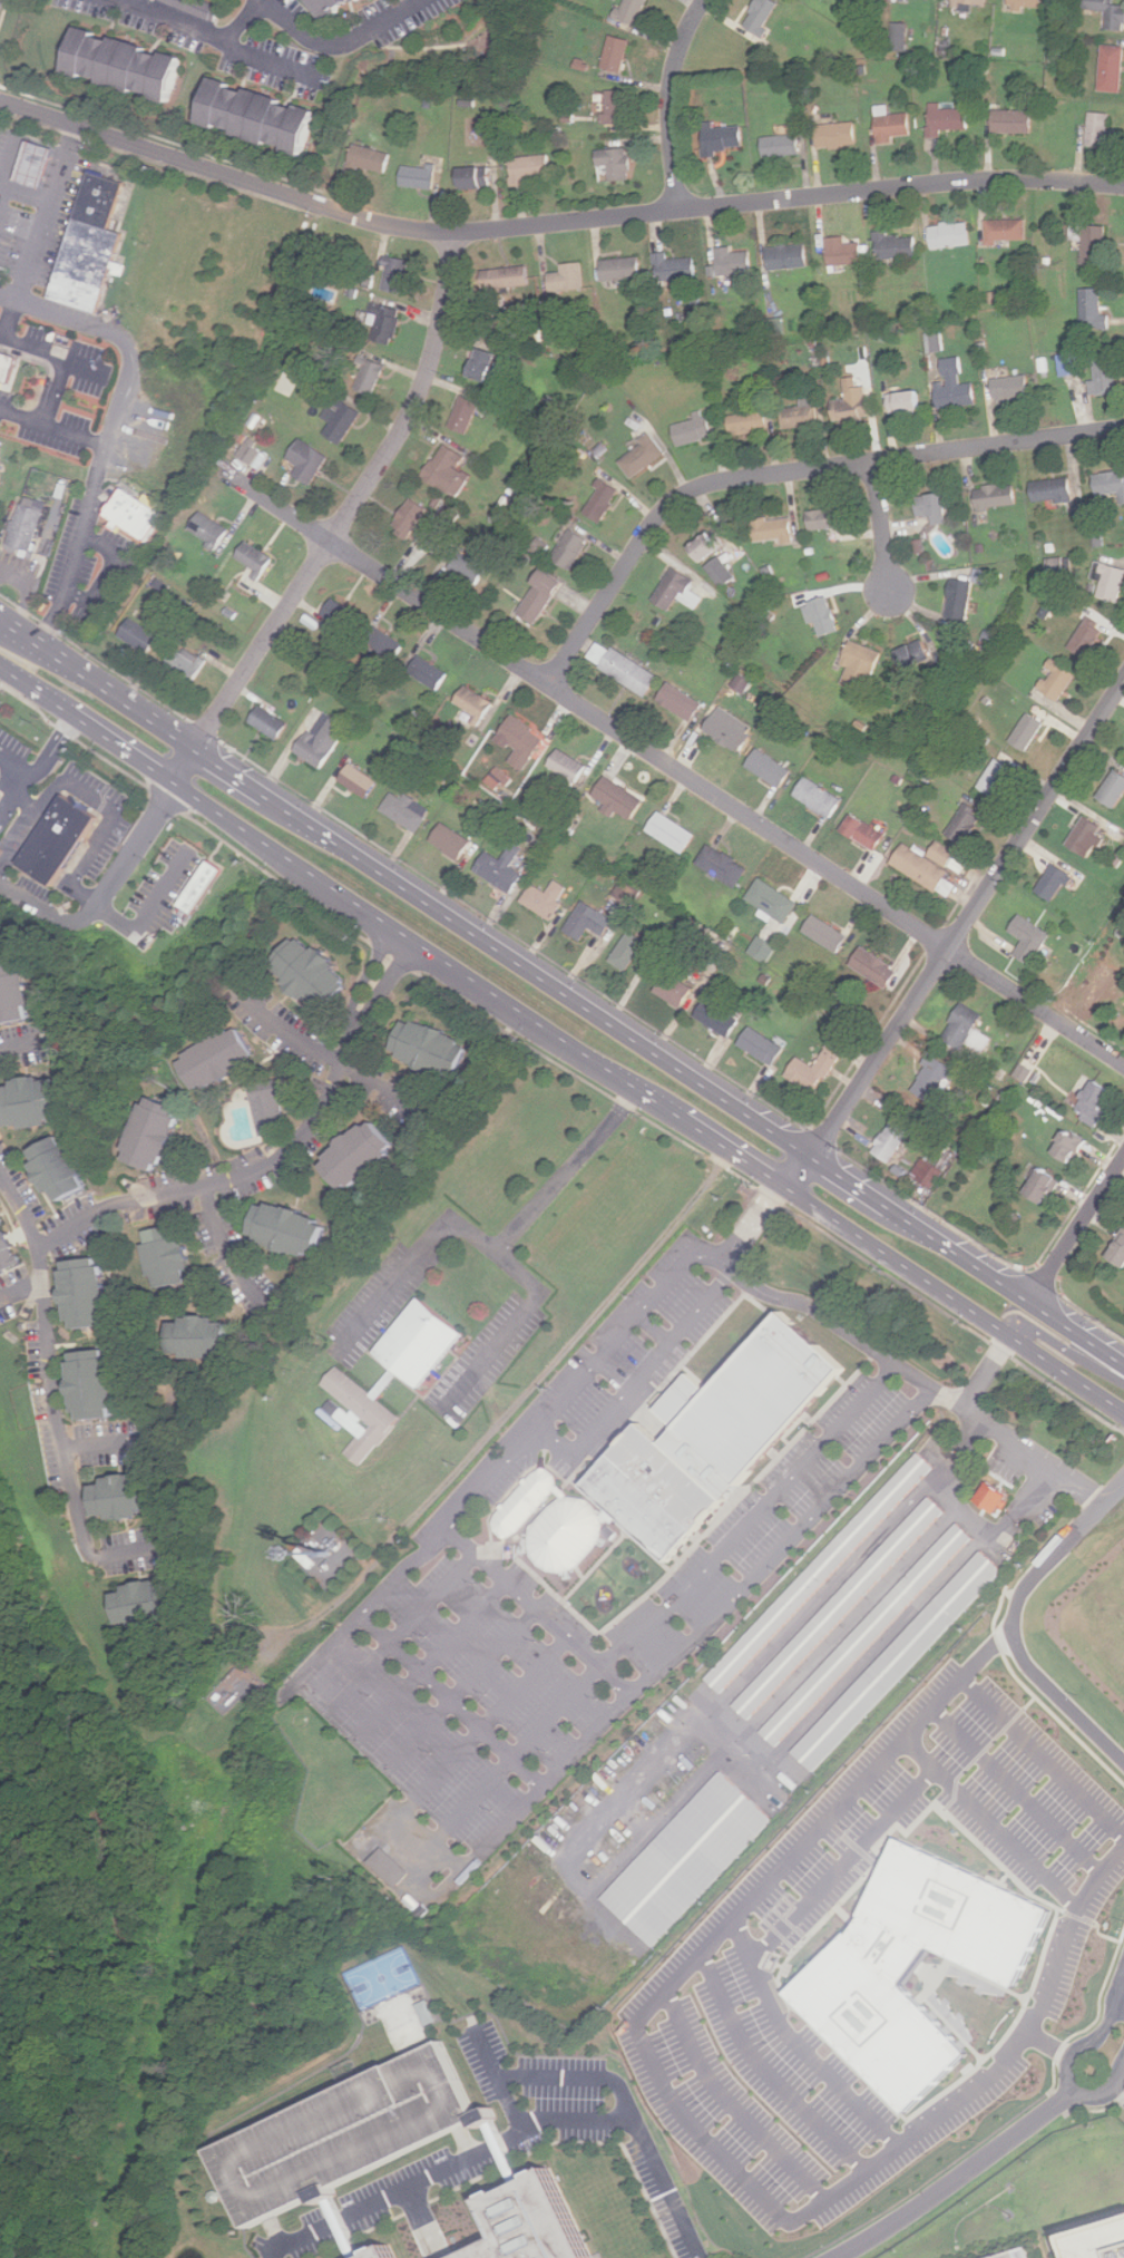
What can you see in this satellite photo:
building: (903, 0)
building: (975, 2)
building: (1029, 4)
building: (335, 6)
building: (201, 8)
building: (634, 11)
building: (1110, 12)
road: (3, 13)
building: (763, 16)
road: (246, 20)
building: (902, 38)
road: (219, 39)
road: (343, 43)
building: (618, 55)
building: (127, 65)
building: (1113, 69)
road: (669, 101)
building: (619, 107)
building: (262, 117)
building: (948, 119)
building: (1015, 123)
building: (897, 128)
building: (1097, 130)
building: (839, 136)
building: (725, 139)
building: (784, 146)
building: (370, 160)
building: (36, 164)
building: (618, 164)
building: (530, 169)
building: (421, 177)
building: (477, 178)
road: (28, 185)
building: (106, 196)
road: (6, 198)
road: (51, 213)
road: (553, 223)
building: (1009, 233)
building: (952, 235)
building: (1087, 244)
building: (897, 246)
building: (847, 253)
building: (790, 257)
building: (91, 262)
building: (736, 262)
building: (674, 267)
building: (625, 269)
building: (398, 273)
building: (508, 279)
building: (570, 279)
building: (1089, 310)
road: (11, 320)
building: (387, 322)
building: (934, 341)
road: (62, 359)
building: (486, 363)
building: (1071, 363)
building: (8, 367)
building: (373, 376)
building: (1103, 376)
building: (957, 386)
building: (1011, 387)
building: (909, 401)
building: (854, 406)
building: (467, 412)
building: (802, 415)
building: (344, 418)
building: (752, 421)
road: (56, 427)
road: (117, 428)
building: (696, 428)
building: (253, 451)
building: (645, 455)
building: (1, 456)
building: (307, 461)
building: (450, 470)
road: (785, 471)
building: (1108, 484)
building: (1049, 489)
building: (998, 496)
building: (604, 500)
road: (354, 502)
building: (936, 506)
building: (1078, 508)
building: (136, 512)
building: (451, 516)
building: (413, 517)
building: (831, 519)
road: (881, 525)
building: (28, 526)
building: (213, 528)
building: (775, 528)
building: (705, 547)
building: (573, 548)
building: (257, 556)
building: (1059, 566)
building: (468, 568)
road: (110, 572)
building: (723, 572)
building: (980, 576)
building: (1106, 581)
building: (680, 590)
building: (544, 596)
building: (961, 598)
building: (344, 613)
road: (2, 614)
building: (823, 615)
building: (143, 635)
building: (1085, 636)
building: (385, 644)
building: (917, 653)
building: (188, 662)
building: (862, 663)
building: (625, 668)
building: (430, 672)
road: (18, 673)
building: (1055, 679)
road: (101, 682)
building: (742, 683)
road: (49, 694)
building: (684, 701)
building: (477, 702)
building: (273, 722)
building: (730, 730)
building: (1024, 731)
building: (325, 740)
building: (525, 740)
road: (121, 743)
road: (43, 762)
road: (190, 766)
road: (672, 766)
building: (569, 767)
building: (772, 768)
road: (234, 770)
building: (999, 778)
building: (362, 781)
building: (1111, 789)
building: (821, 797)
road: (95, 798)
building: (622, 799)
road: (17, 805)
road: (30, 806)
building: (407, 810)
building: (969, 824)
building: (674, 833)
building: (867, 833)
building: (1081, 836)
building: (59, 840)
building: (453, 841)
building: (942, 853)
building: (725, 866)
building: (504, 868)
building: (926, 870)
building: (1056, 882)
building: (202, 886)
building: (627, 892)
road: (110, 895)
building: (547, 898)
building: (774, 899)
road: (148, 907)
road: (967, 917)
building: (590, 921)
building: (828, 934)
road: (411, 938)
building: (1032, 938)
building: (765, 948)
building: (637, 952)
building: (878, 967)
building: (312, 973)
road: (539, 973)
building: (678, 990)
building: (16, 994)
building: (720, 1018)
building: (969, 1029)
building: (764, 1045)
building: (432, 1048)
building: (219, 1059)
building: (824, 1063)
building: (1024, 1072)
road: (338, 1074)
building: (935, 1079)
road: (654, 1100)
building: (38, 1101)
building: (1098, 1102)
building: (272, 1107)
building: (158, 1133)
building: (893, 1139)
road: (723, 1145)
building: (1073, 1146)
building: (363, 1155)
road: (278, 1157)
building: (65, 1168)
road: (795, 1168)
road: (567, 1170)
building: (929, 1171)
road: (849, 1179)
building: (1046, 1186)
building: (293, 1228)
road: (1079, 1228)
building: (9, 1247)
building: (1116, 1250)
road: (961, 1253)
road: (500, 1254)
road: (222, 1255)
road: (716, 1255)
building: (169, 1256)
road: (398, 1285)
road: (21, 1292)
building: (91, 1292)
parking lot: (389, 1293)
road: (951, 1296)
road: (1084, 1314)
road: (659, 1327)
road: (1079, 1330)
building: (204, 1336)
building: (424, 1339)
road: (500, 1350)
road: (879, 1353)
parking lot: (492, 1355)
road: (1067, 1356)
road: (48, 1362)
road: (658, 1362)
road: (987, 1370)
building: (98, 1384)
road: (577, 1389)
building: (361, 1412)
building: (716, 1435)
road: (561, 1440)
road: (102, 1444)
building: (991, 1496)
building: (127, 1497)
road: (756, 1519)
building: (549, 1521)
parking lot: (457, 1549)
road: (125, 1553)
road: (773, 1561)
road: (407, 1570)
building: (824, 1570)
road: (529, 1593)
building: (150, 1603)
building: (843, 1604)
road: (1014, 1620)
road: (407, 1626)
building: (870, 1632)
road: (336, 1642)
road: (988, 1653)
road: (440, 1654)
building: (902, 1657)
road: (470, 1682)
road: (459, 1695)
road: (531, 1740)
road: (1043, 1758)
road: (563, 1770)
road: (443, 1771)
road: (1016, 1792)
road: (991, 1824)
building: (692, 1855)
road: (843, 1865)
building: (389, 1867)
road: (844, 1914)
road: (1095, 1924)
road: (923, 1972)
building: (852, 1974)
park: (381, 1978)
road: (987, 1980)
road: (936, 1982)
road: (783, 1995)
road: (1120, 2003)
building: (424, 2011)
park: (404, 2023)
road: (954, 2028)
road: (1099, 2035)
road: (1049, 2044)
road: (798, 2045)
road: (769, 2073)
road: (574, 2079)
road: (497, 2080)
road: (1108, 2091)
road: (1118, 2092)
road: (734, 2102)
road: (515, 2133)
building: (340, 2134)
parking lot: (340, 2134)
road: (467, 2140)
road: (715, 2147)
road: (497, 2151)
road: (958, 2179)
building: (214, 2196)
building: (520, 2222)
road: (1074, 2223)
road: (335, 2226)
road: (275, 2231)
building: (1097, 2240)
building: (371, 2252)
building: (1017, 2254)
parking lot: (1017, 2254)

